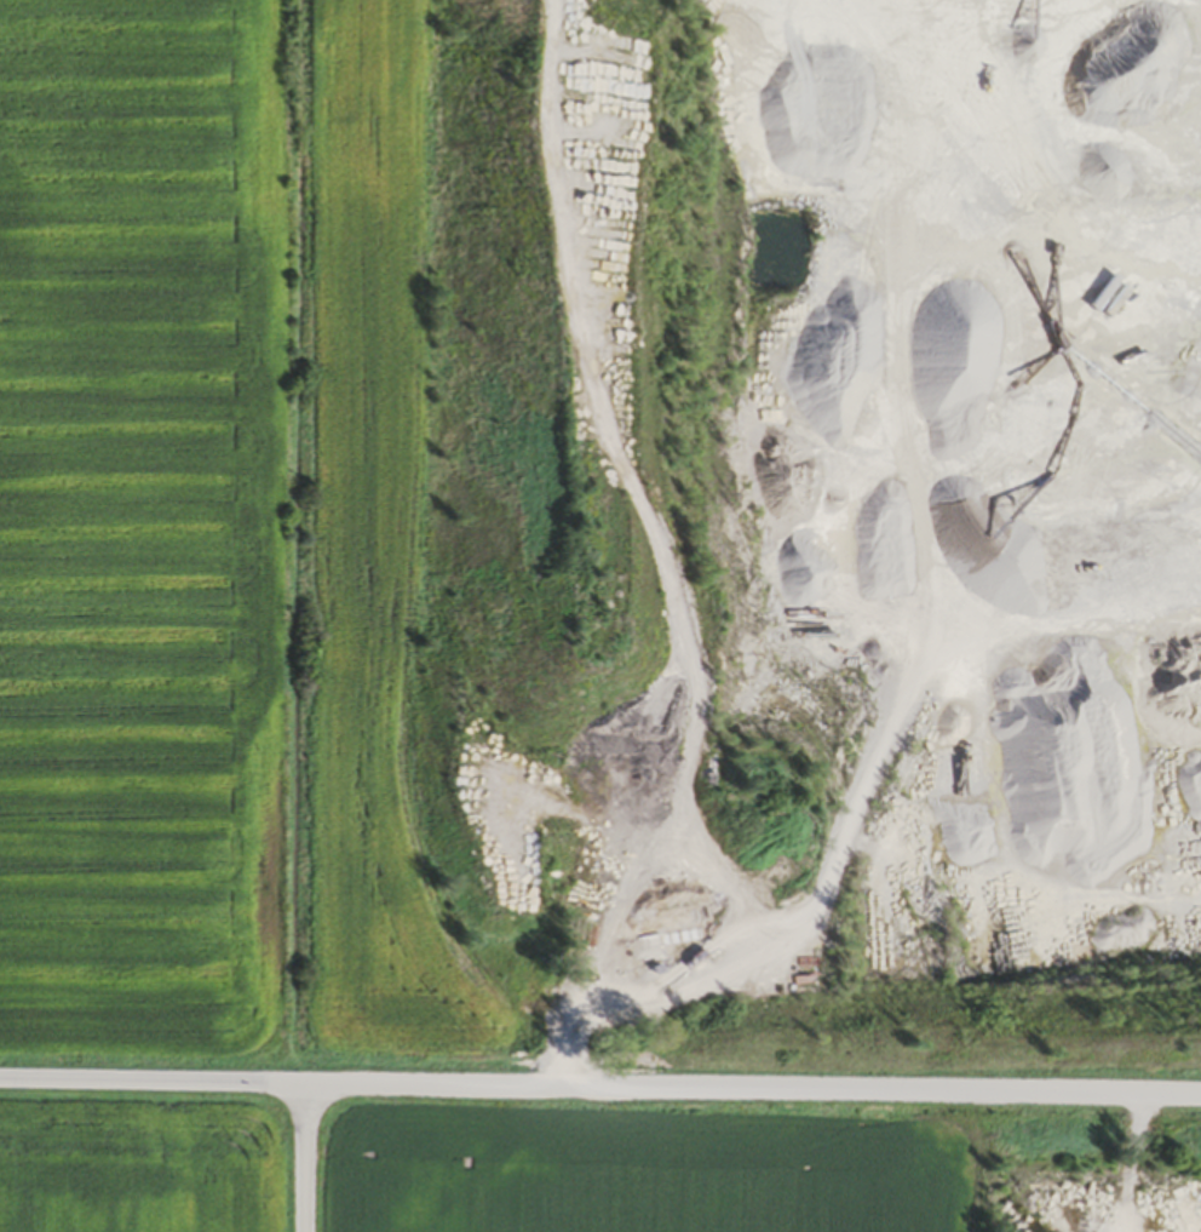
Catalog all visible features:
quarry: (826, 571)
road: (600, 1085)
road: (304, 1157)

